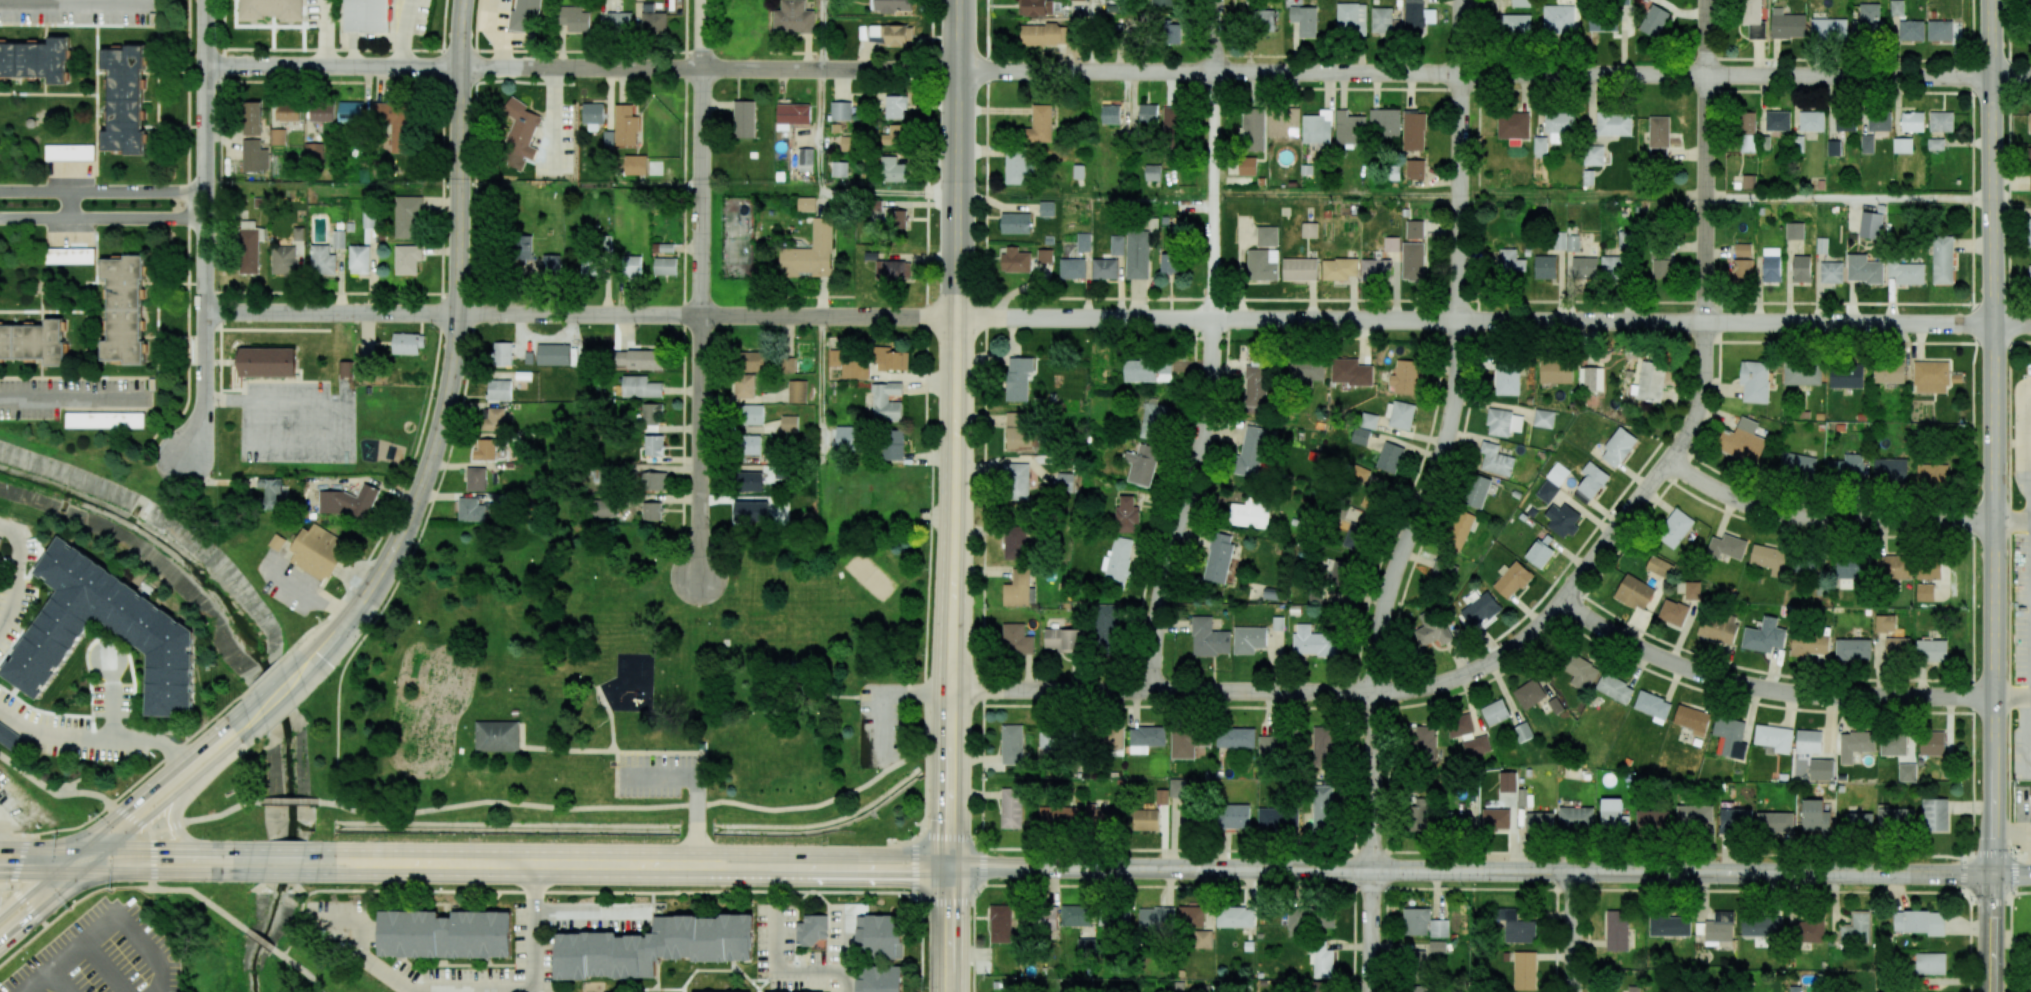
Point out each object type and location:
building: (1074, 0)
road: (76, 2)
building: (1163, 2)
building: (1520, 3)
building: (893, 6)
building: (1113, 6)
building: (1038, 7)
building: (1896, 7)
building: (271, 9)
building: (368, 15)
building: (524, 16)
building: (1417, 16)
building: (793, 17)
building: (573, 18)
building: (1753, 18)
building: (1264, 19)
building: (1351, 19)
building: (1558, 19)
building: (1304, 20)
building: (1381, 20)
building: (1653, 20)
building: (619, 21)
building: (654, 22)
building: (1868, 22)
building: (1513, 24)
building: (1603, 24)
building: (1787, 25)
building: (1828, 29)
building: (1911, 30)
building: (1939, 30)
building: (1173, 32)
building: (2030, 32)
road: (402, 33)
road: (823, 34)
building: (891, 34)
building: (1043, 34)
road: (1094, 35)
building: (36, 59)
road: (332, 66)
road: (708, 69)
road: (1494, 74)
building: (124, 99)
building: (896, 107)
building: (351, 111)
building: (841, 111)
building: (323, 112)
building: (289, 113)
building: (1148, 113)
building: (1110, 114)
building: (792, 115)
building: (593, 116)
building: (253, 118)
building: (744, 119)
building: (1171, 119)
building: (1777, 120)
building: (1811, 121)
building: (1879, 121)
building: (1912, 121)
building: (1941, 121)
building: (1283, 122)
building: (1559, 122)
building: (1845, 122)
building: (2029, 122)
building: (394, 123)
building: (1385, 123)
building: (1614, 124)
building: (1039, 125)
building: (626, 126)
building: (1317, 127)
building: (1513, 127)
building: (522, 128)
building: (1349, 128)
building: (1253, 129)
building: (1414, 130)
building: (1658, 131)
building: (1748, 132)
building: (896, 135)
building: (278, 136)
building: (848, 143)
building: (1799, 143)
building: (1867, 144)
building: (1935, 144)
building: (1902, 145)
road: (442, 146)
building: (1540, 147)
building: (1833, 148)
building: (1658, 151)
building: (70, 152)
building: (313, 152)
building: (1593, 155)
building: (254, 156)
road: (957, 158)
building: (806, 159)
road: (1706, 161)
road: (1992, 162)
building: (635, 164)
building: (1247, 166)
building: (2030, 167)
building: (839, 168)
building: (1016, 168)
building: (892, 169)
building: (1415, 169)
building: (1078, 171)
building: (1152, 172)
building: (1394, 174)
building: (1588, 177)
building: (1748, 181)
road: (104, 190)
road: (829, 193)
road: (1460, 196)
road: (1849, 200)
road: (70, 204)
building: (806, 204)
building: (1046, 209)
building: (408, 217)
road: (105, 218)
building: (897, 218)
building: (367, 220)
building: (1015, 223)
building: (1871, 225)
building: (1415, 229)
building: (1309, 230)
building: (1794, 230)
road: (205, 231)
building: (2029, 232)
building: (1267, 236)
building: (339, 239)
building: (1566, 241)
building: (1084, 242)
building: (1392, 243)
building: (1117, 245)
building: (1822, 245)
building: (523, 248)
building: (1743, 250)
building: (250, 251)
building: (810, 253)
building: (1044, 255)
building: (1137, 255)
building: (69, 256)
building: (283, 259)
building: (359, 259)
building: (407, 259)
building: (1413, 259)
building: (322, 260)
building: (1016, 260)
building: (1942, 260)
building: (1509, 261)
building: (1170, 262)
building: (551, 264)
building: (1262, 264)
building: (1611, 264)
building: (1771, 264)
building: (589, 265)
building: (1661, 265)
building: (632, 266)
building: (665, 266)
building: (1584, 266)
building: (1545, 267)
building: (1072, 268)
building: (1105, 268)
building: (1802, 268)
building: (1300, 269)
building: (1340, 269)
building: (1376, 269)
building: (1863, 269)
building: (893, 270)
building: (1742, 270)
building: (1831, 272)
building: (1906, 272)
building: (2029, 275)
road: (700, 289)
road: (323, 292)
road: (458, 293)
building: (125, 307)
road: (331, 312)
road: (706, 315)
road: (456, 321)
road: (1473, 321)
road: (2011, 324)
road: (275, 329)
road: (188, 342)
building: (35, 343)
building: (408, 343)
road: (1212, 348)
road: (220, 350)
building: (502, 353)
building: (555, 353)
building: (530, 357)
building: (647, 358)
building: (890, 358)
building: (268, 361)
building: (754, 361)
building: (787, 363)
building: (851, 363)
building: (347, 368)
building: (1148, 370)
building: (1307, 370)
building: (1556, 370)
building: (1351, 372)
building: (1889, 372)
building: (1802, 373)
building: (524, 374)
building: (1846, 376)
building: (1406, 377)
building: (1507, 377)
building: (1930, 377)
building: (1018, 378)
building: (1591, 379)
road: (269, 380)
building: (1755, 381)
building: (1650, 382)
building: (744, 386)
building: (1256, 386)
building: (640, 387)
building: (501, 389)
building: (797, 391)
road: (76, 399)
building: (886, 402)
road: (955, 405)
building: (751, 414)
building: (1400, 414)
road: (459, 415)
building: (651, 417)
building: (493, 418)
building: (1543, 418)
building: (106, 419)
building: (1369, 420)
building: (1154, 421)
building: (1503, 422)
parking lot: (297, 423)
building: (789, 424)
building: (1018, 432)
road: (925, 435)
building: (1360, 436)
road: (2028, 436)
road: (2008, 438)
road: (1446, 440)
building: (1741, 441)
building: (751, 444)
building: (893, 444)
building: (653, 445)
building: (1618, 447)
building: (485, 450)
building: (1253, 451)
building: (1390, 457)
building: (1496, 459)
building: (1142, 464)
building: (1796, 465)
building: (1846, 467)
building: (1890, 469)
building: (1557, 473)
building: (1933, 473)
building: (477, 478)
building: (1065, 480)
building: (654, 481)
building: (749, 481)
building: (1016, 481)
building: (1590, 482)
road: (401, 489)
building: (1476, 491)
building: (1547, 491)
building: (272, 492)
building: (128, 498)
road: (1971, 498)
building: (348, 501)
building: (470, 510)
building: (652, 511)
building: (752, 511)
road: (984, 511)
building: (1251, 513)
building: (1127, 515)
building: (1562, 519)
road: (2012, 519)
road: (1825, 520)
building: (1352, 525)
building: (1674, 528)
building: (1458, 530)
building: (1, 540)
building: (278, 541)
building: (1015, 542)
building: (1727, 547)
building: (319, 553)
building: (1219, 557)
building: (1769, 559)
building: (1117, 561)
building: (1806, 565)
building: (1659, 566)
building: (1892, 566)
building: (1851, 568)
building: (1928, 568)
building: (1335, 570)
road: (18, 571)
road: (356, 575)
park: (868, 576)
building: (1511, 579)
traffic signals: (373, 584)
building: (1017, 589)
building: (1692, 590)
road: (319, 592)
building: (1634, 592)
building: (1924, 592)
building: (1271, 593)
road: (1995, 599)
building: (1480, 608)
building: (1673, 612)
building: (145, 623)
building: (1885, 623)
building: (1106, 627)
building: (1718, 627)
building: (1432, 628)
building: (1764, 636)
building: (1209, 638)
building: (1016, 639)
building: (1061, 639)
building: (1248, 639)
road: (322, 641)
building: (1314, 642)
building: (1809, 644)
building: (1897, 648)
building: (1853, 649)
building: (1931, 650)
road: (326, 652)
river: (262, 664)
building: (791, 668)
road: (269, 670)
building: (1580, 671)
road: (950, 673)
road: (269, 684)
road: (1431, 685)
building: (1615, 688)
road: (1769, 689)
road: (915, 691)
park: (613, 694)
building: (1529, 694)
road: (832, 695)
road: (112, 696)
road: (2013, 697)
building: (1555, 705)
building: (1652, 705)
road: (277, 707)
building: (1495, 712)
road: (611, 717)
building: (1692, 719)
parking lot: (879, 722)
road: (880, 727)
building: (1522, 732)
building: (498, 735)
building: (1467, 735)
road: (91, 737)
building: (1235, 737)
building: (1729, 737)
building: (10, 738)
building: (1145, 738)
building: (1050, 739)
building: (1109, 739)
building: (1774, 739)
building: (1424, 740)
building: (1809, 741)
building: (1188, 742)
building: (1931, 743)
building: (1012, 744)
building: (1855, 744)
building: (1893, 744)
road: (2028, 744)
building: (1270, 745)
building: (1322, 746)
road: (566, 749)
road: (638, 751)
road: (220, 756)
building: (1822, 769)
building: (1907, 772)
road: (26, 773)
road: (617, 774)
road: (658, 774)
parking lot: (662, 774)
road: (160, 778)
building: (1507, 782)
building: (1179, 787)
road: (100, 795)
road: (118, 796)
building: (1162, 796)
building: (1525, 798)
road: (292, 799)
road: (641, 806)
building: (1011, 808)
building: (1323, 808)
road: (697, 813)
building: (1613, 813)
building: (1418, 814)
building: (1695, 814)
road: (149, 815)
building: (1935, 815)
road: (208, 816)
building: (1059, 816)
building: (1100, 816)
building: (1233, 816)
building: (1815, 816)
building: (1496, 818)
building: (1895, 818)
building: (1187, 819)
building: (1277, 819)
building: (1576, 819)
building: (1145, 820)
building: (1457, 821)
building: (1653, 821)
building: (1735, 821)
building: (1859, 821)
building: (1538, 822)
building: (1775, 823)
road: (175, 826)
road: (951, 836)
road: (55, 847)
traffic signals: (77, 847)
traffic signals: (111, 848)
road: (161, 848)
road: (232, 849)
road: (286, 849)
road: (647, 851)
traffic signals: (951, 854)
road: (2022, 856)
road: (62, 859)
road: (96, 860)
road: (951, 865)
road: (961, 871)
road: (1482, 871)
road: (40, 872)
traffic signals: (48, 872)
traffic signals: (82, 872)
road: (153, 872)
road: (164, 873)
road: (282, 873)
traffic signals: (1994, 875)
road: (2012, 875)
road: (633, 876)
traffic signals: (951, 876)
road: (24, 892)
road: (2014, 892)
road: (28, 907)
road: (40, 908)
road: (69, 909)
road: (219, 910)
building: (1074, 915)
building: (1191, 915)
building: (1235, 917)
building: (1048, 918)
building: (1115, 918)
building: (1155, 919)
building: (1323, 920)
building: (1415, 921)
building: (1920, 922)
road: (105, 923)
building: (1000, 923)
building: (1295, 923)
building: (1516, 926)
building: (1669, 926)
building: (1762, 926)
building: (1717, 927)
building: (1439, 928)
building: (812, 929)
building: (1617, 930)
road: (1372, 931)
building: (1809, 931)
road: (1573, 932)
road: (952, 933)
road: (1992, 933)
building: (445, 934)
road: (533, 934)
building: (879, 935)
road: (259, 938)
building: (1203, 939)
road: (2009, 941)
building: (654, 946)
building: (1437, 946)
road: (847, 953)
building: (1419, 956)
building: (1322, 959)
building: (1930, 963)
road: (299, 967)
road: (784, 967)
building: (1525, 970)
building: (881, 979)
road: (59, 981)
building: (1320, 987)
road: (420, 988)
building: (1415, 988)
building: (1633, 988)
building: (1795, 989)

